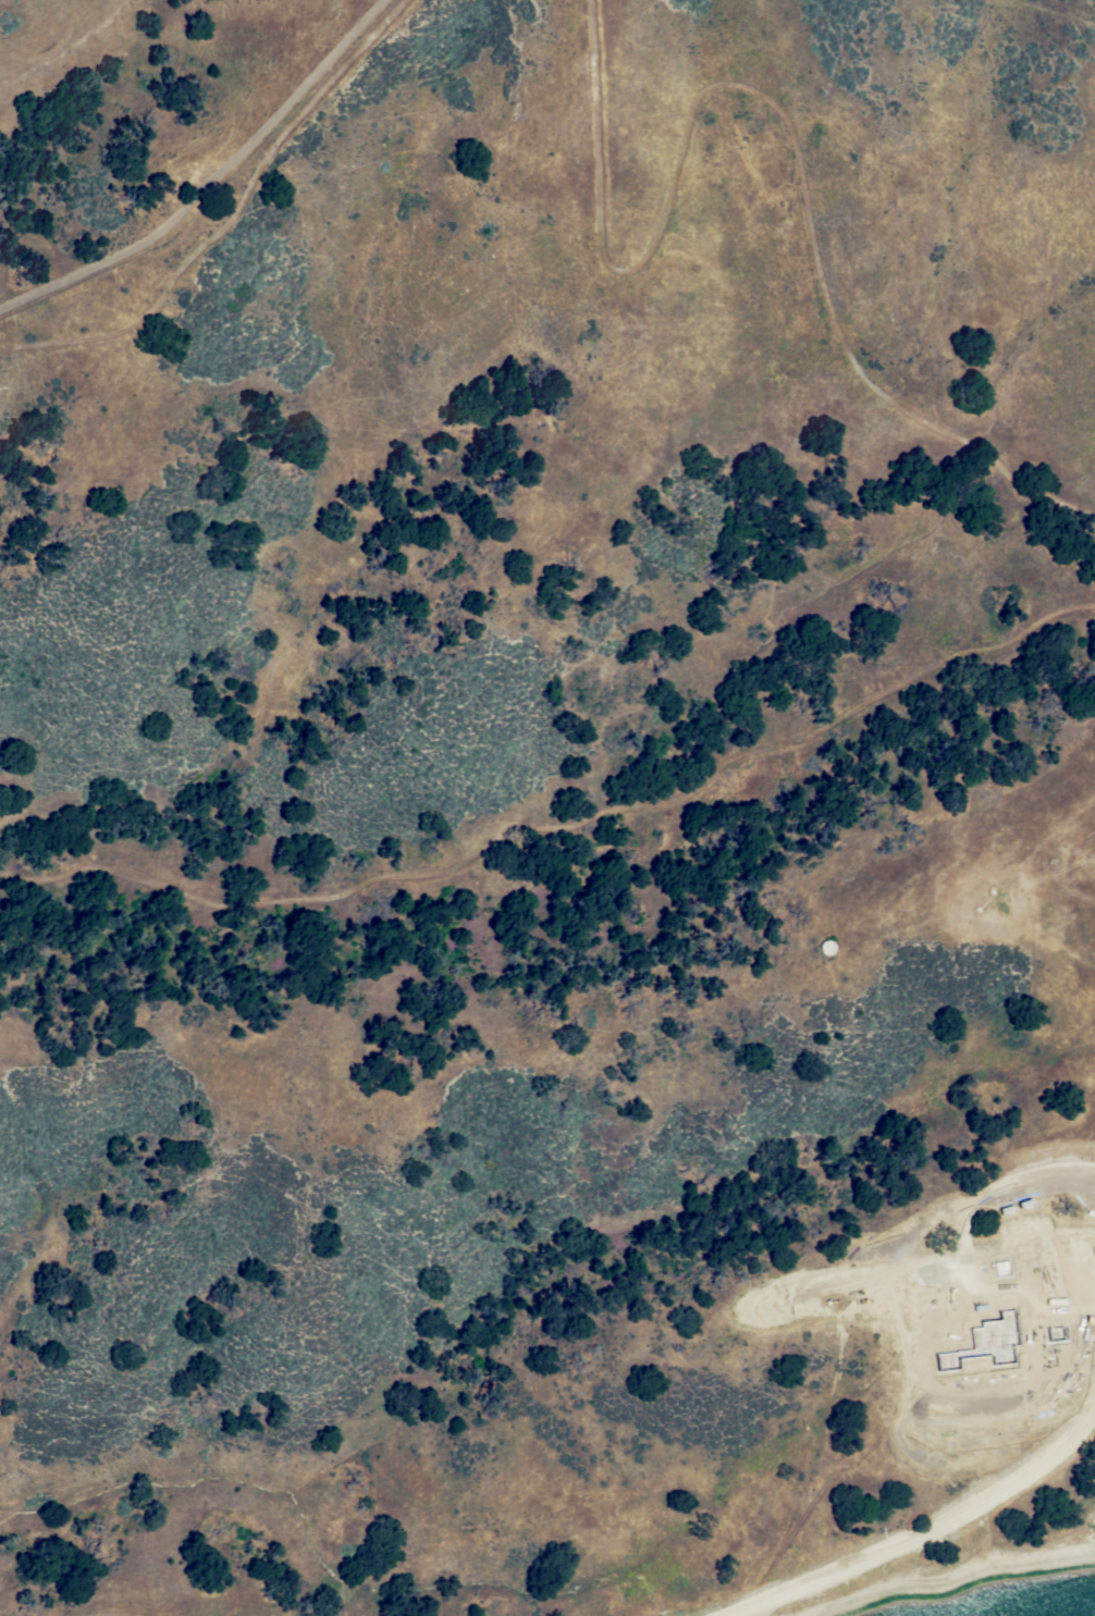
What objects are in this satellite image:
road: (773, 101)
road: (928, 1525)

